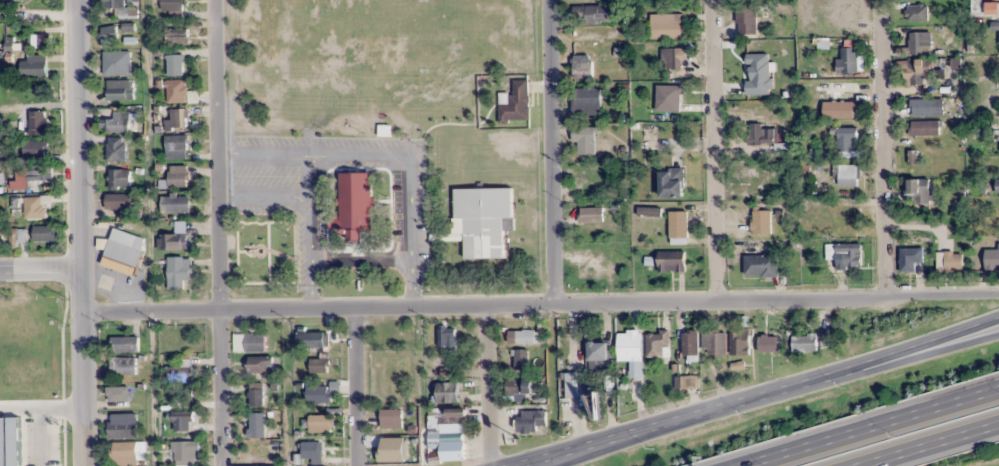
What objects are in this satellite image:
building: (13, 0)
building: (172, 5)
building: (985, 7)
building: (121, 8)
building: (917, 13)
building: (592, 14)
building: (746, 21)
building: (995, 25)
building: (667, 26)
building: (108, 35)
building: (37, 41)
building: (919, 43)
building: (672, 58)
building: (846, 60)
building: (581, 61)
building: (116, 63)
building: (175, 65)
building: (33, 66)
building: (915, 72)
building: (119, 93)
building: (668, 98)
building: (586, 102)
building: (515, 103)
building: (921, 108)
building: (839, 110)
building: (177, 120)
building: (37, 122)
building: (116, 122)
building: (925, 128)
building: (761, 135)
building: (847, 139)
building: (584, 140)
building: (176, 146)
road: (883, 148)
building: (115, 149)
road: (714, 151)
road: (552, 152)
building: (35, 153)
building: (37, 175)
building: (847, 175)
building: (177, 176)
building: (119, 179)
building: (671, 183)
building: (997, 186)
building: (922, 191)
building: (118, 202)
building: (356, 203)
building: (176, 204)
building: (18, 205)
building: (41, 205)
building: (649, 212)
building: (591, 215)
building: (484, 220)
building: (761, 222)
building: (678, 227)
road: (78, 232)
road: (219, 232)
building: (43, 233)
building: (19, 234)
building: (175, 241)
building: (125, 247)
building: (846, 255)
building: (992, 259)
building: (907, 260)
building: (671, 262)
building: (949, 262)
building: (760, 266)
road: (39, 269)
building: (179, 273)
building: (105, 282)
road: (539, 305)
building: (22, 330)
building: (527, 336)
building: (447, 338)
building: (312, 339)
building: (249, 342)
building: (690, 343)
building: (714, 343)
building: (740, 343)
building: (768, 343)
building: (804, 343)
building: (123, 344)
building: (656, 344)
building: (629, 347)
building: (598, 355)
road: (907, 355)
building: (521, 359)
building: (122, 365)
building: (260, 365)
building: (318, 365)
building: (181, 369)
building: (21, 374)
building: (574, 385)
road: (489, 386)
building: (521, 386)
road: (360, 388)
building: (447, 392)
building: (255, 394)
building: (319, 394)
building: (118, 395)
road: (749, 396)
building: (181, 416)
building: (391, 418)
building: (452, 421)
building: (530, 422)
building: (319, 423)
building: (123, 425)
building: (256, 425)
road: (868, 426)
road: (929, 444)
building: (387, 448)
building: (452, 449)
road: (593, 449)
building: (21, 450)
building: (311, 450)
building: (184, 451)
building: (124, 453)

